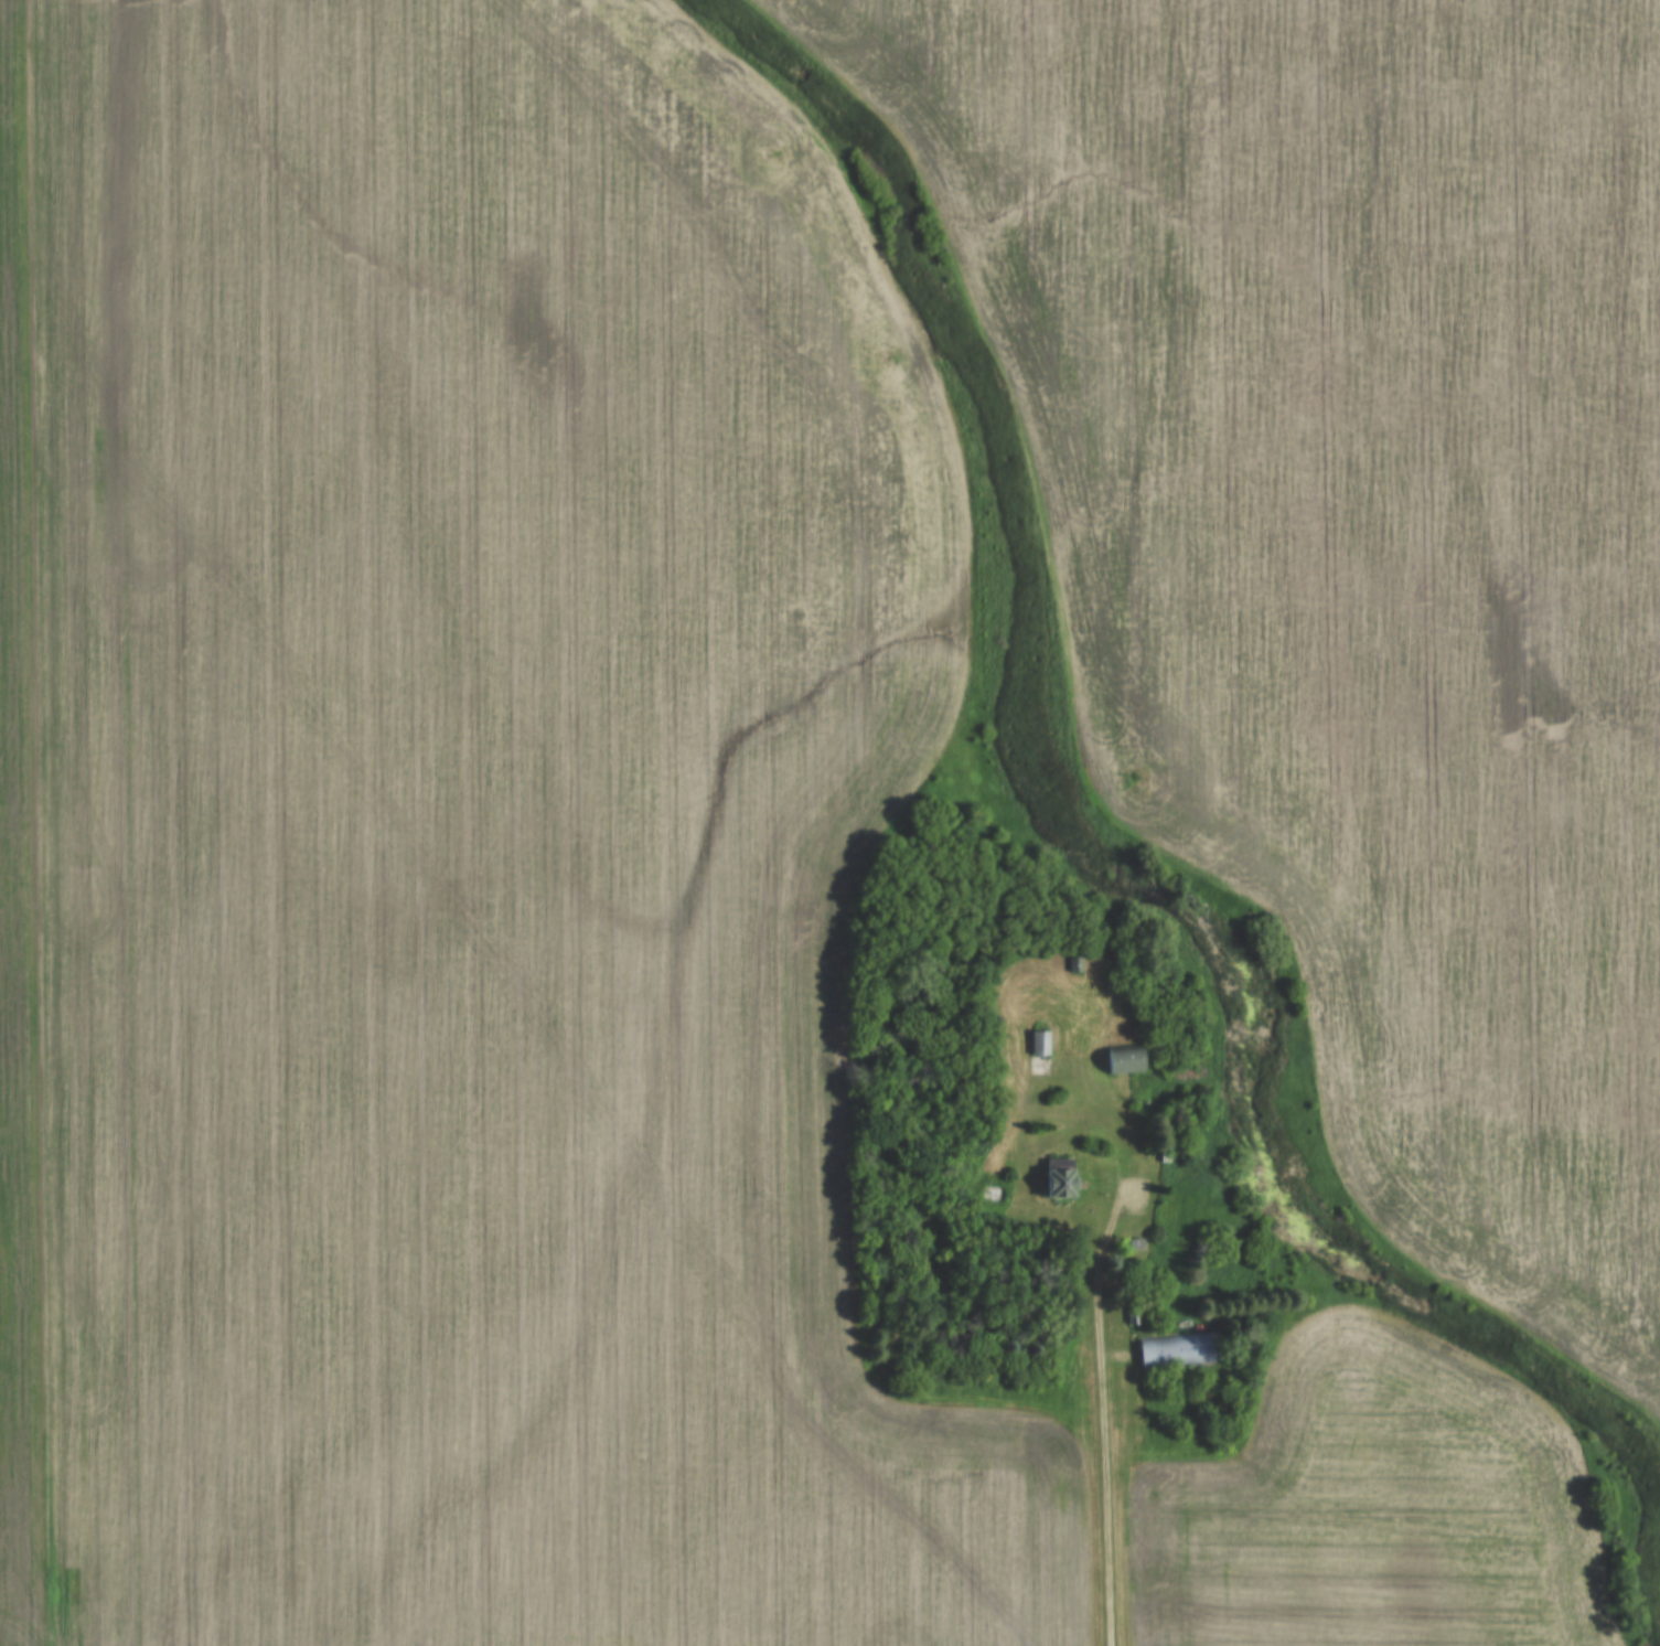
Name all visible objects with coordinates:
road: (1101, 1403)

